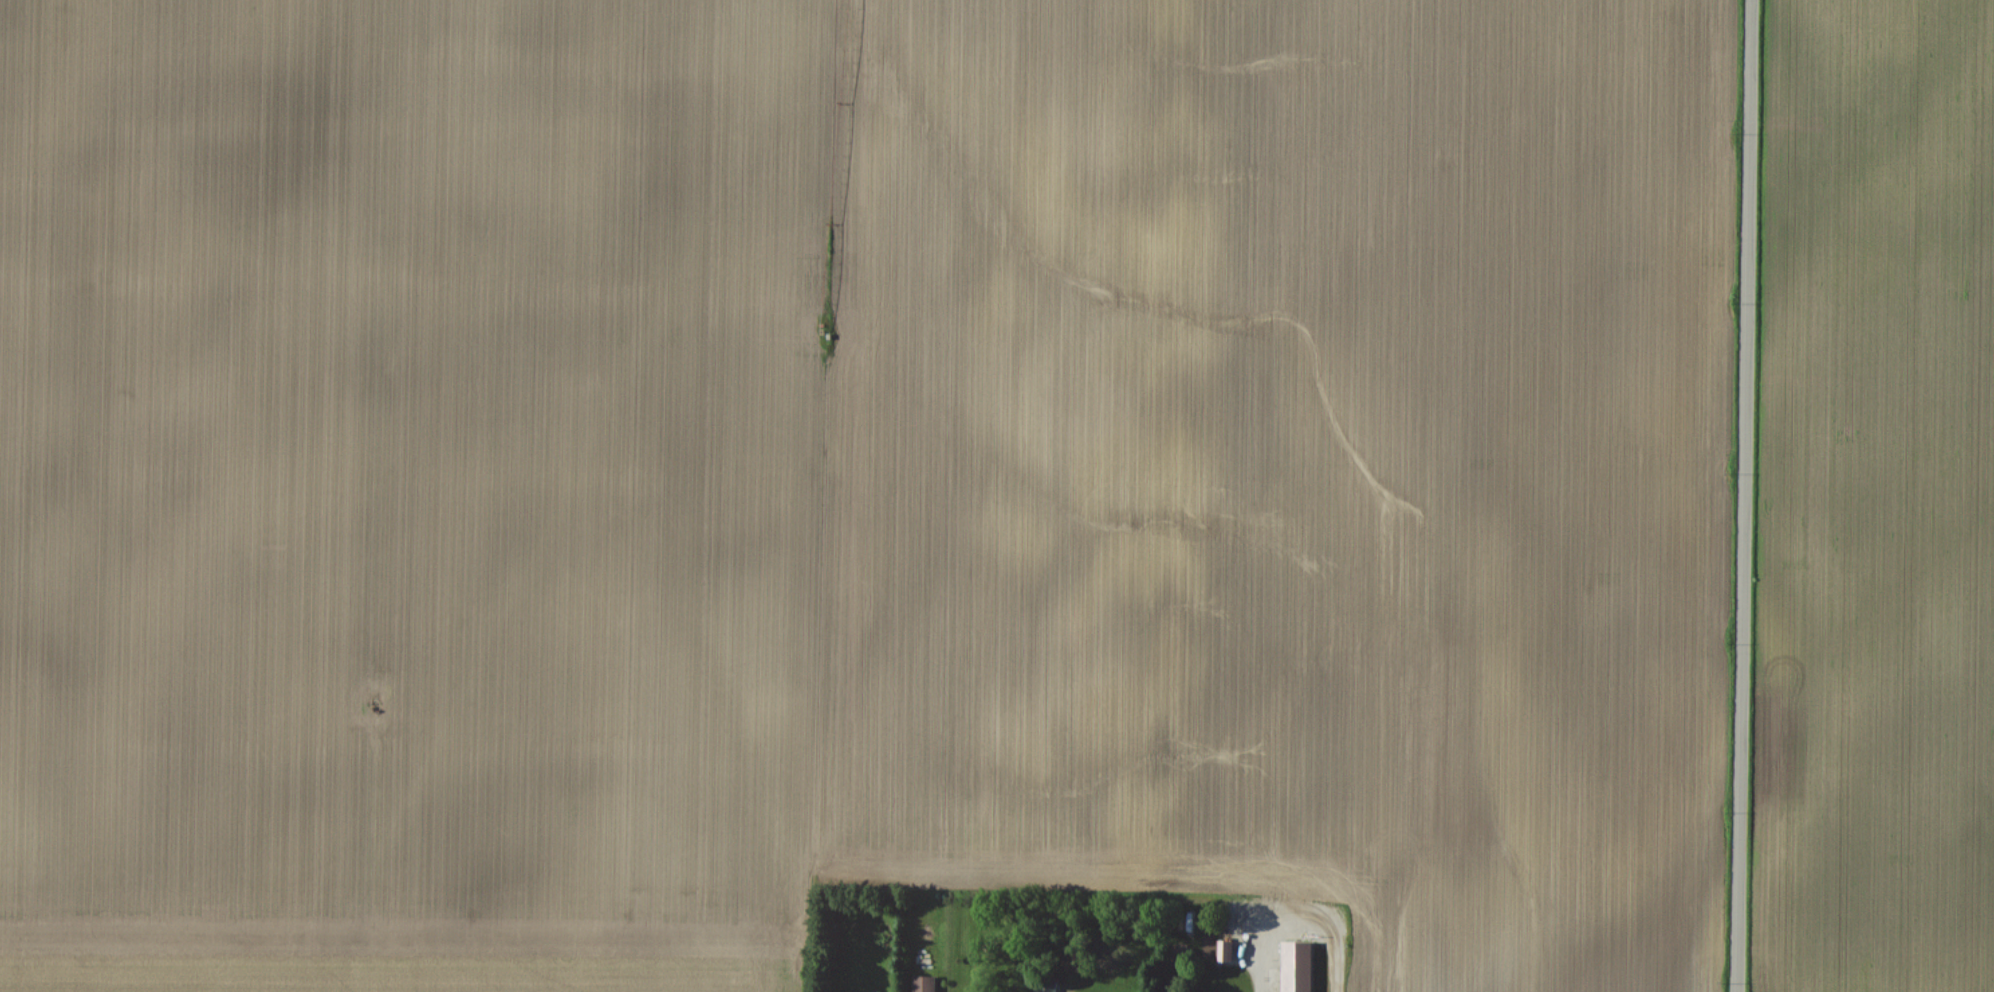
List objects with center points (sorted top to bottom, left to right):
road: (1742, 496)
road: (1298, 915)
building: (1222, 950)
building: (1293, 966)
building: (921, 984)
building: (1045, 987)

